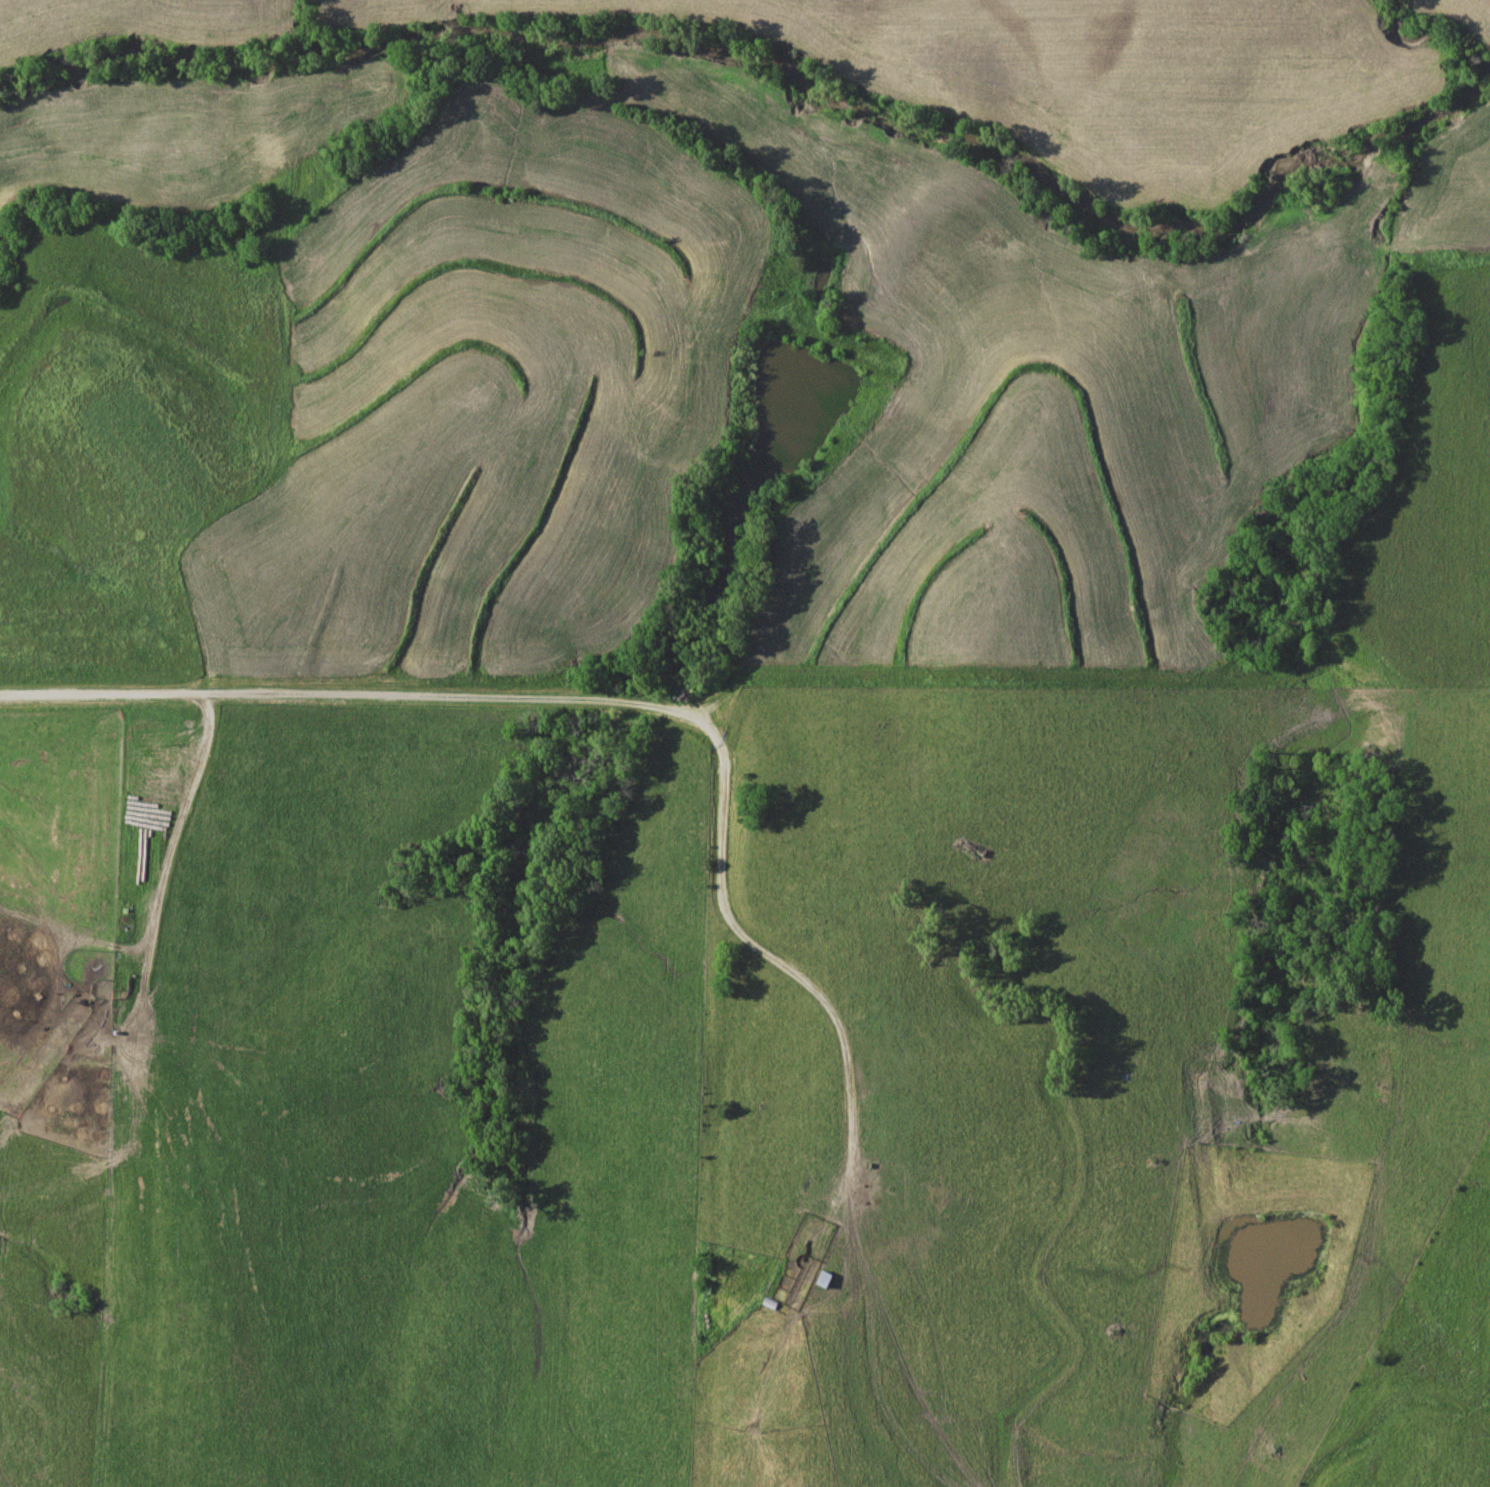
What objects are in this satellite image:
road: (581, 711)
building: (822, 1280)

